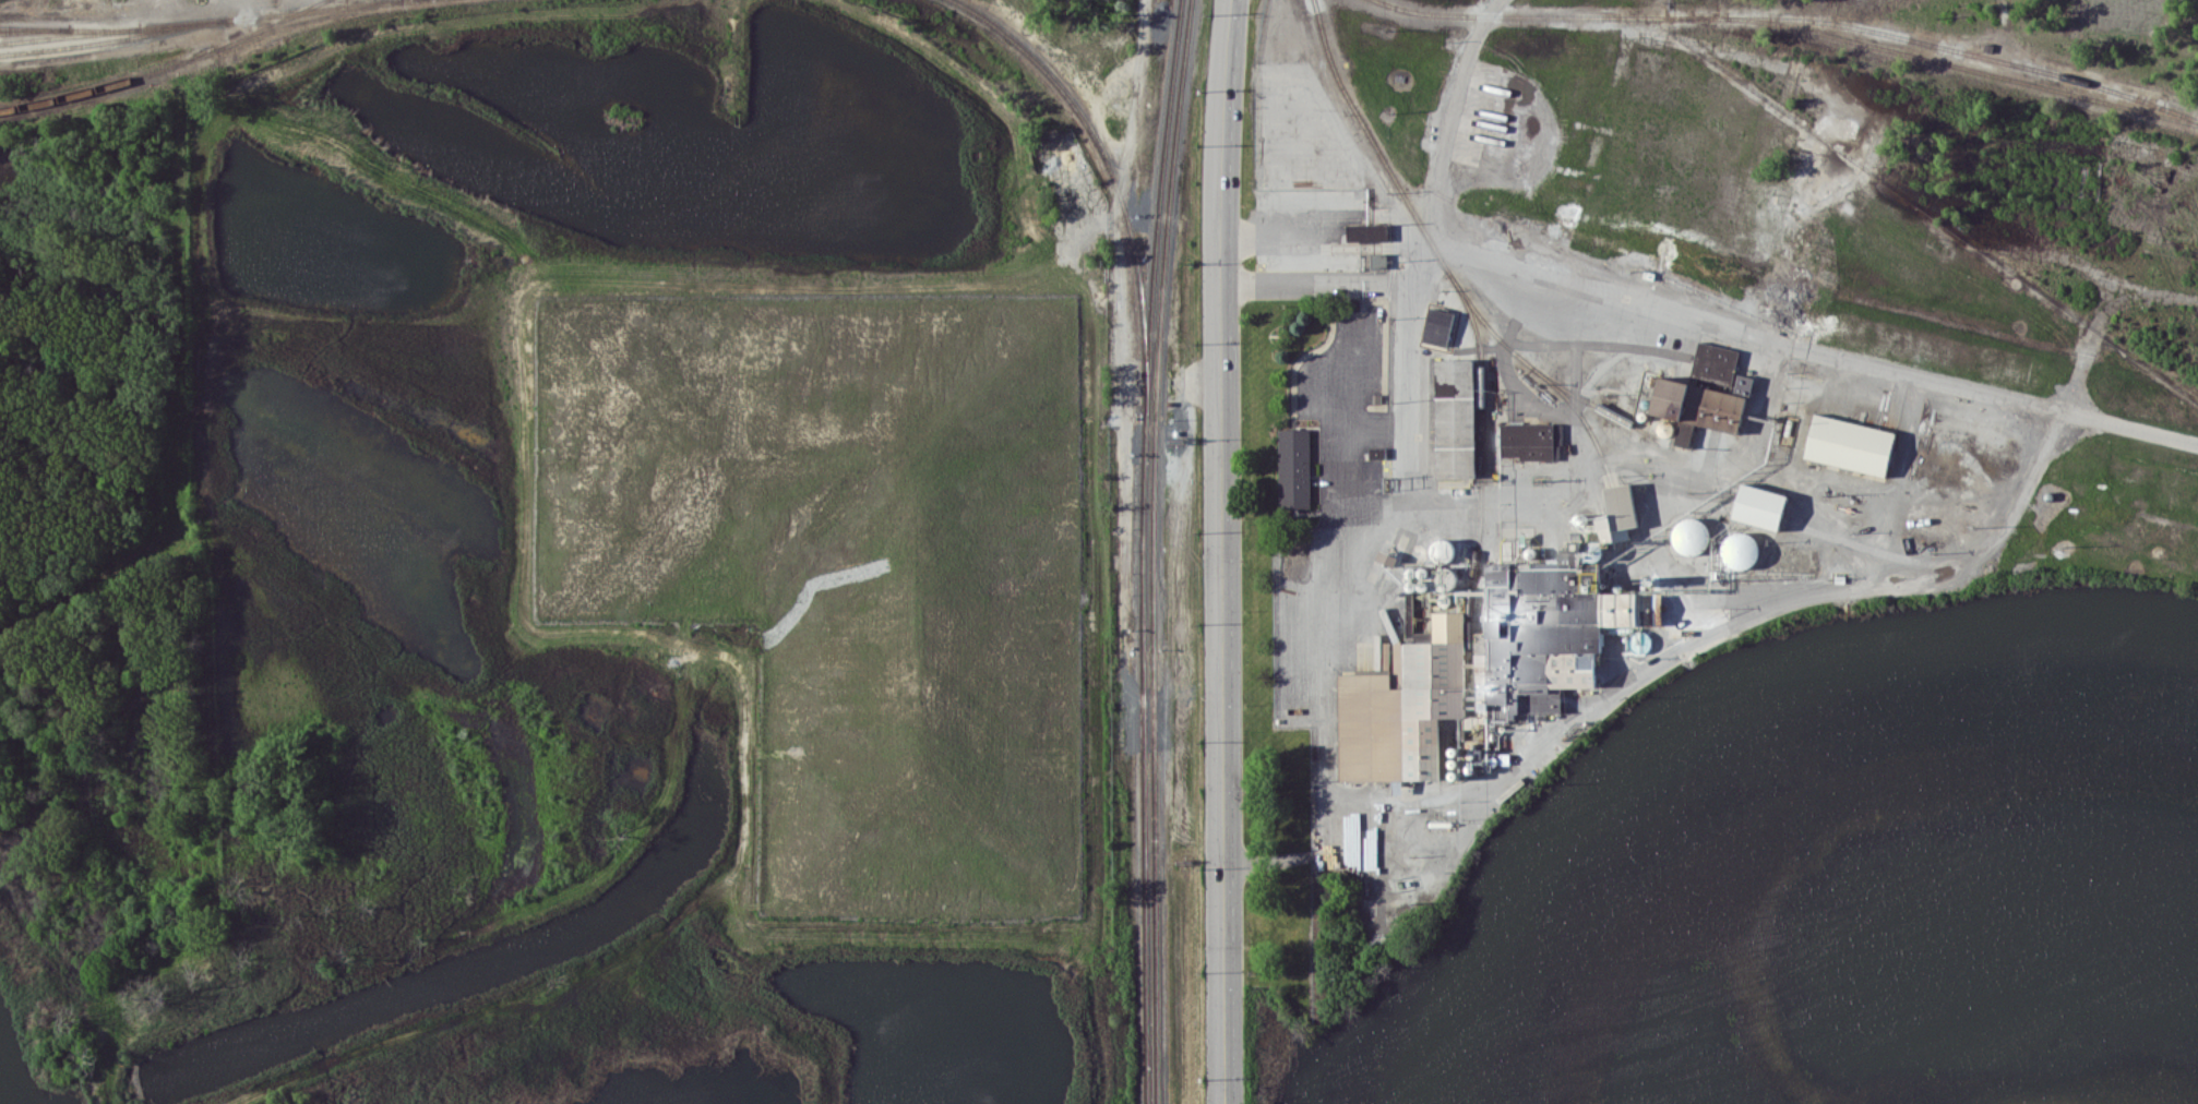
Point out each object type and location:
railway: (306, 19)
railway: (205, 21)
railway: (1791, 25)
railway: (33, 27)
railway: (70, 28)
railway: (114, 37)
railway: (1964, 52)
railway: (165, 67)
railway: (1371, 141)
railway: (1109, 173)
building: (1367, 225)
road: (1313, 244)
building: (1379, 257)
road: (1312, 283)
road: (1676, 305)
building: (1436, 325)
railway: (1539, 371)
building: (1700, 387)
railway: (1582, 418)
building: (1665, 425)
building: (1456, 428)
building: (1532, 439)
building: (1850, 444)
building: (1294, 468)
road: (2027, 485)
railway: (1480, 490)
railway: (1614, 503)
building: (1622, 504)
building: (1761, 505)
road: (1383, 531)
building: (1691, 531)
building: (1740, 545)
building: (1442, 548)
railway: (1139, 551)
railway: (1154, 551)
road: (1210, 551)
building: (1443, 576)
building: (1555, 631)
building: (1640, 638)
river: (1705, 704)
building: (1403, 708)
road: (1576, 712)

